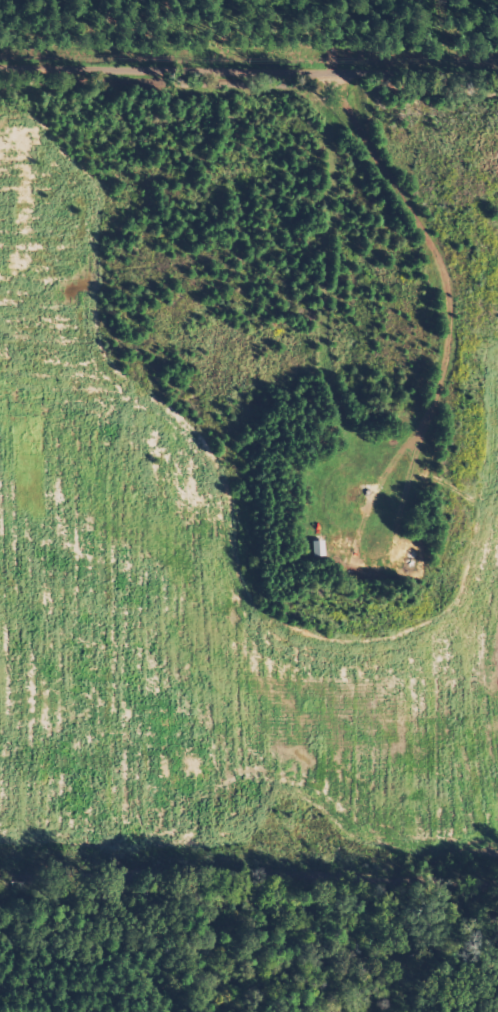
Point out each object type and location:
road: (249, 103)

